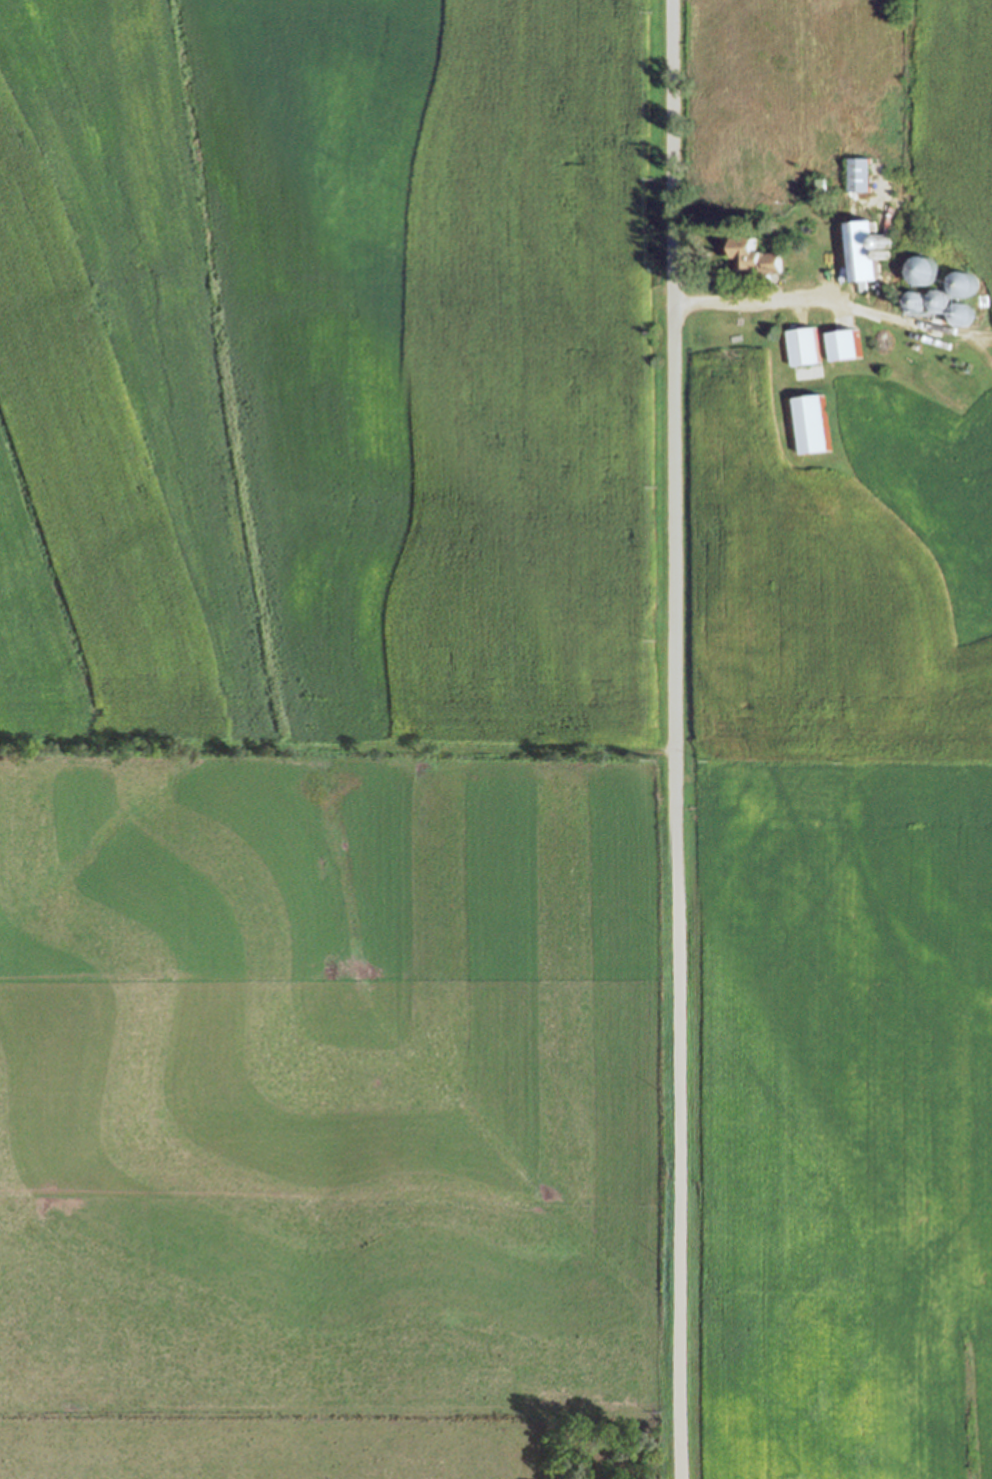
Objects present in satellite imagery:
building: (858, 171)
building: (822, 187)
building: (865, 244)
building: (756, 257)
road: (766, 301)
building: (842, 340)
building: (804, 342)
building: (820, 425)
road: (675, 739)

